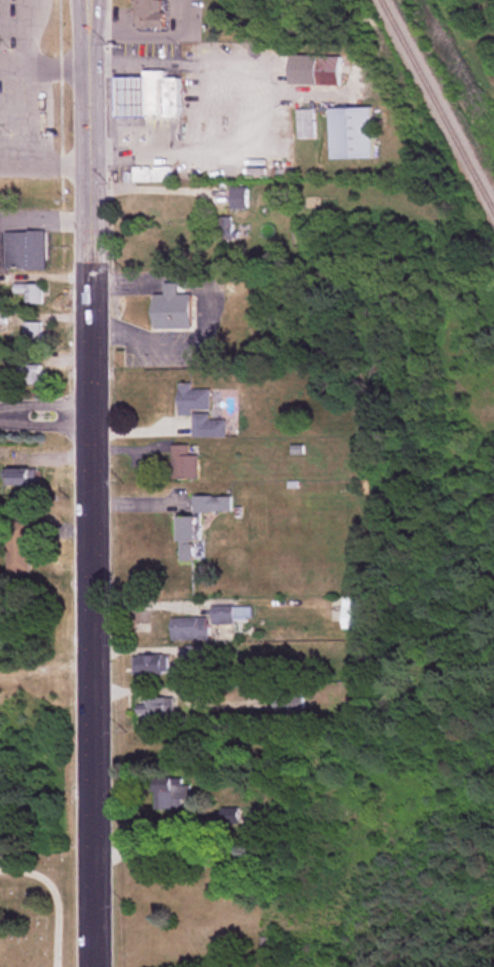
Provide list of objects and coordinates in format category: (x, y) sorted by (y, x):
building: (149, 14)
road: (13, 21)
road: (27, 63)
road: (13, 64)
building: (313, 70)
building: (161, 93)
building: (130, 96)
railway: (437, 107)
road: (13, 108)
road: (27, 114)
building: (303, 124)
building: (349, 133)
road: (90, 154)
road: (45, 164)
building: (151, 174)
building: (236, 198)
building: (222, 229)
building: (24, 250)
building: (145, 253)
building: (28, 294)
building: (171, 309)
building: (33, 332)
building: (31, 374)
road: (52, 406)
building: (199, 411)
road: (6, 413)
road: (52, 424)
building: (185, 462)
building: (20, 477)
building: (211, 504)
building: (186, 539)
building: (17, 548)
building: (353, 613)
building: (221, 615)
building: (188, 629)
road: (95, 637)
building: (194, 654)
building: (152, 666)
building: (288, 704)
building: (155, 711)
building: (169, 796)
building: (233, 816)
park: (33, 906)

